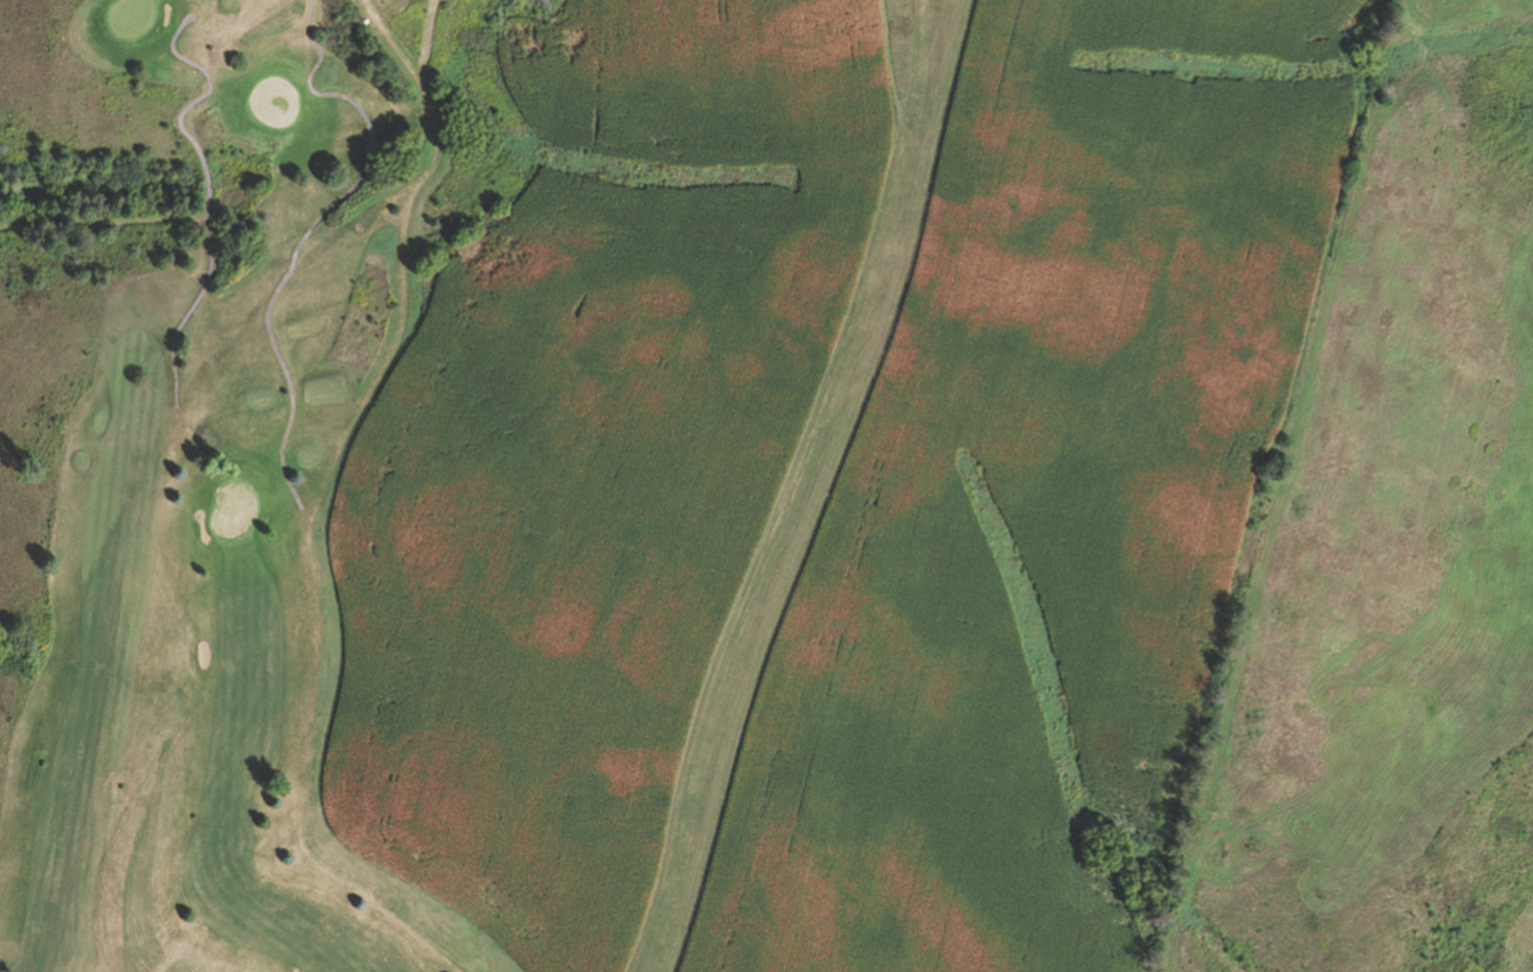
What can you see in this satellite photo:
park: (135, 18)
park: (278, 100)
road: (208, 194)
road: (102, 222)
road: (310, 232)
park: (636, 470)
park: (234, 511)

